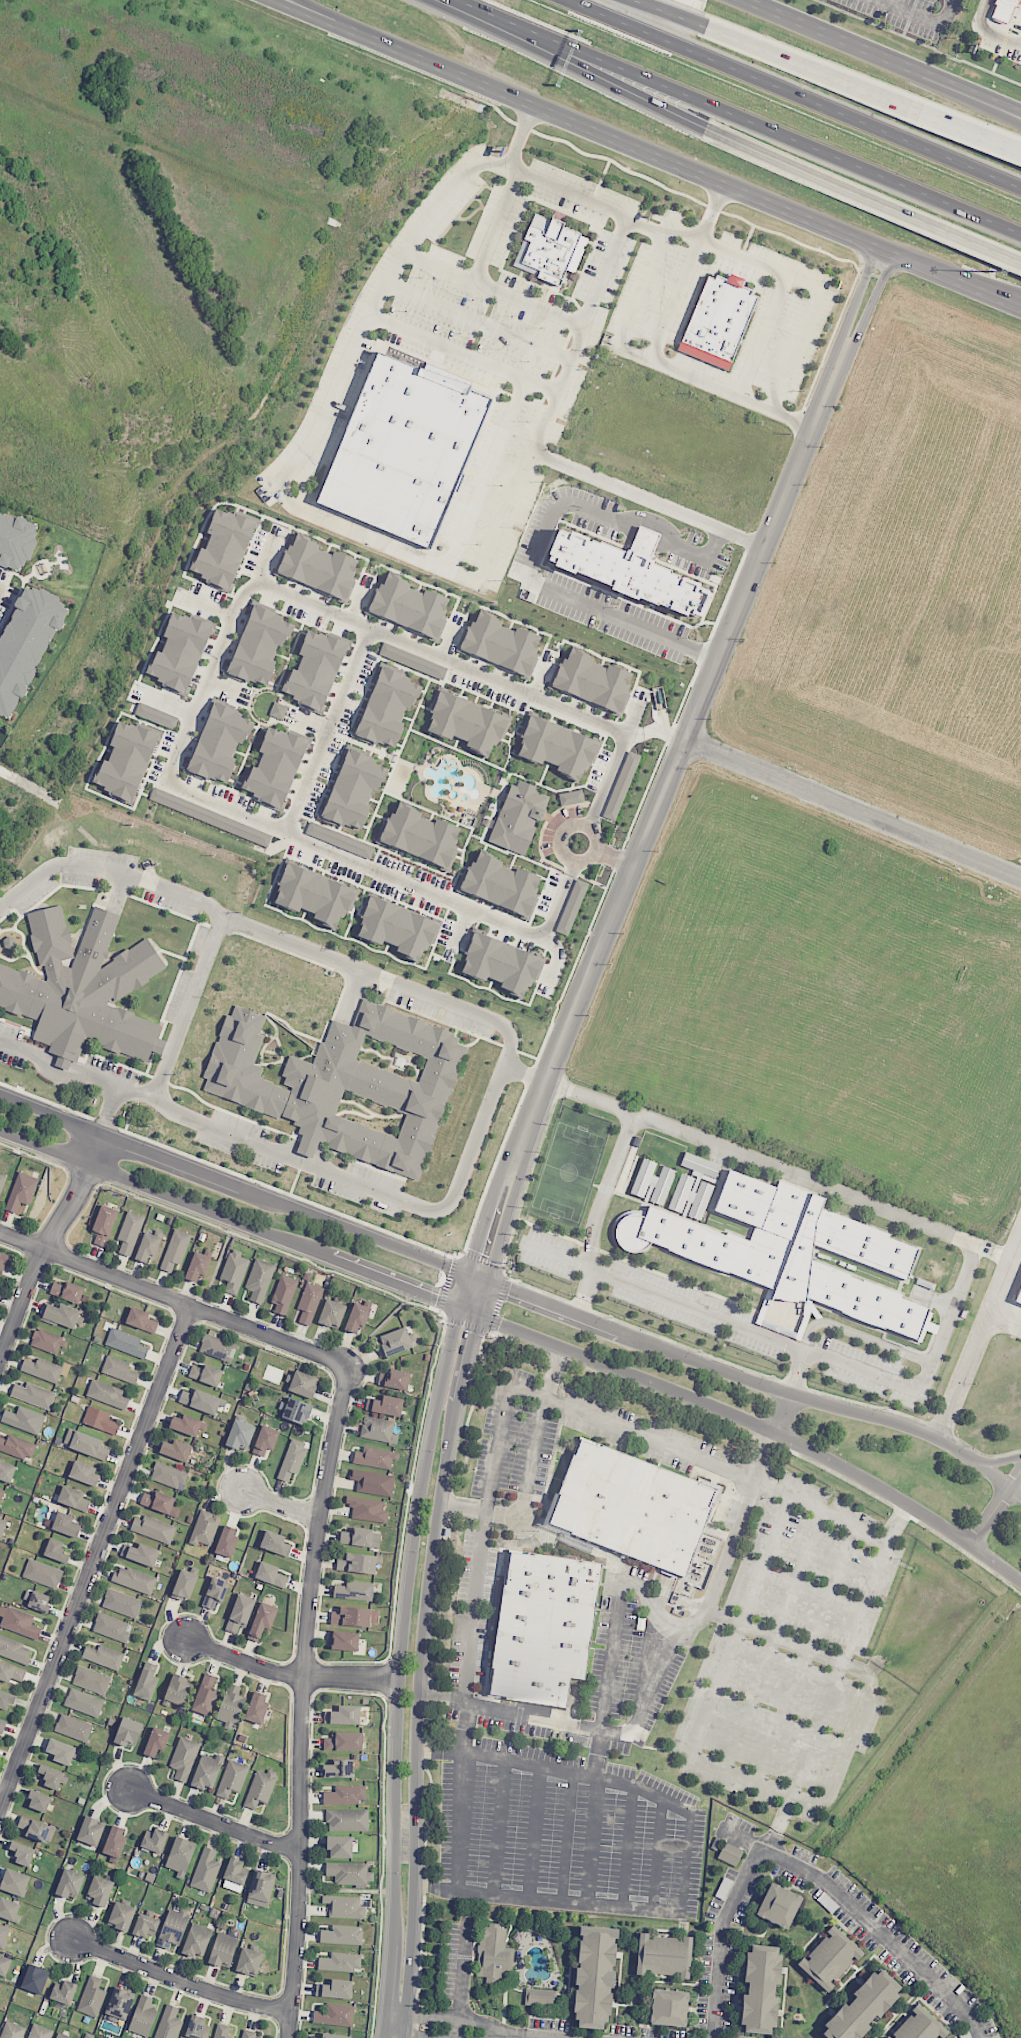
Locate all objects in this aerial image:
road: (466, 4)
building: (1003, 9)
road: (329, 13)
road: (669, 13)
road: (314, 18)
road: (924, 21)
road: (499, 24)
road: (837, 33)
street lamp: (612, 41)
road: (389, 42)
road: (388, 47)
street lamp: (362, 48)
road: (809, 67)
road: (937, 80)
road: (614, 84)
road: (969, 88)
road: (794, 94)
street lamp: (765, 104)
road: (988, 107)
road: (748, 120)
road: (967, 127)
road: (520, 136)
street lamp: (916, 167)
road: (719, 182)
road: (863, 196)
road: (666, 234)
building: (547, 248)
road: (610, 260)
street lamp: (993, 270)
street lamp: (874, 278)
road: (985, 284)
road: (822, 289)
road: (858, 294)
road: (872, 299)
road: (636, 307)
building: (718, 320)
road: (764, 335)
road: (443, 347)
road: (654, 353)
street lamp: (820, 362)
road: (514, 409)
road: (304, 448)
building: (404, 448)
street lamp: (781, 458)
road: (633, 492)
road: (648, 535)
building: (16, 540)
building: (224, 547)
street lamp: (742, 553)
road: (696, 554)
building: (318, 566)
building: (627, 571)
road: (552, 588)
building: (410, 607)
road: (211, 608)
building: (501, 643)
building: (26, 644)
building: (259, 645)
building: (181, 651)
road: (436, 655)
building: (412, 661)
building: (315, 667)
street lamp: (690, 679)
building: (593, 680)
road: (172, 705)
building: (386, 707)
building: (278, 710)
building: (156, 715)
road: (634, 719)
building: (467, 721)
road: (326, 729)
road: (664, 731)
road: (632, 734)
building: (219, 741)
street lamp: (663, 742)
building: (557, 746)
road: (680, 749)
building: (128, 759)
building: (276, 767)
building: (621, 786)
building: (352, 788)
building: (571, 797)
road: (853, 808)
building: (519, 816)
building: (419, 836)
street lamp: (626, 837)
building: (339, 840)
road: (578, 842)
road: (328, 849)
road: (606, 853)
building: (501, 885)
building: (315, 894)
building: (571, 907)
building: (397, 926)
road: (461, 926)
street lamp: (586, 933)
building: (9, 942)
road: (289, 944)
building: (502, 962)
building: (82, 986)
road: (190, 1009)
street lamp: (547, 1028)
road: (78, 1081)
building: (345, 1083)
street lamp: (61, 1103)
street lamp: (509, 1123)
street lamp: (156, 1139)
street lamp: (30, 1154)
park: (569, 1167)
street lamp: (254, 1176)
building: (1, 1179)
road: (501, 1181)
building: (652, 1182)
road: (234, 1183)
road: (352, 1183)
building: (693, 1186)
road: (831, 1188)
building: (21, 1191)
street lamp: (137, 1195)
street lamp: (343, 1212)
road: (598, 1214)
road: (230, 1219)
street lamp: (472, 1219)
road: (505, 1220)
building: (104, 1225)
street lamp: (227, 1230)
building: (129, 1232)
road: (479, 1239)
road: (45, 1241)
street lamp: (434, 1247)
building: (147, 1248)
building: (175, 1249)
building: (784, 1250)
building: (4, 1261)
building: (197, 1267)
street lamp: (323, 1267)
building: (234, 1271)
road: (479, 1277)
building: (259, 1279)
building: (0, 1290)
road: (465, 1290)
building: (67, 1291)
building: (284, 1294)
building: (1018, 1294)
road: (173, 1299)
street lamp: (414, 1300)
building: (309, 1302)
road: (554, 1308)
building: (332, 1313)
building: (61, 1315)
road: (723, 1316)
building: (356, 1318)
parking lot: (723, 1318)
building: (141, 1320)
road: (1002, 1321)
road: (977, 1329)
road: (862, 1335)
road: (471, 1340)
building: (47, 1341)
building: (395, 1341)
building: (126, 1343)
building: (217, 1348)
street lamp: (457, 1350)
building: (42, 1369)
building: (118, 1369)
road: (800, 1369)
building: (206, 1374)
building: (393, 1379)
building: (303, 1384)
building: (106, 1394)
building: (34, 1395)
building: (202, 1401)
road: (826, 1403)
building: (385, 1405)
building: (296, 1411)
road: (785, 1413)
building: (24, 1419)
building: (100, 1420)
road: (752, 1422)
building: (187, 1425)
building: (378, 1429)
building: (240, 1435)
building: (265, 1440)
building: (86, 1444)
building: (17, 1447)
building: (176, 1450)
street lamp: (435, 1450)
building: (374, 1457)
building: (292, 1459)
road: (1000, 1460)
building: (6, 1471)
road: (530, 1472)
building: (84, 1473)
building: (169, 1475)
building: (373, 1482)
building: (1, 1494)
building: (73, 1498)
building: (160, 1503)
road: (280, 1505)
road: (485, 1506)
building: (629, 1508)
road: (995, 1508)
building: (367, 1509)
road: (836, 1518)
road: (896, 1523)
building: (65, 1524)
building: (2, 1526)
building: (153, 1528)
building: (204, 1528)
building: (356, 1537)
building: (227, 1541)
road: (578, 1542)
building: (275, 1543)
building: (56, 1550)
street lamp: (420, 1552)
building: (143, 1554)
road: (95, 1558)
building: (358, 1563)
road: (720, 1570)
building: (42, 1573)
building: (270, 1574)
building: (134, 1579)
building: (184, 1585)
building: (354, 1590)
building: (214, 1593)
building: (39, 1602)
building: (122, 1603)
building: (240, 1613)
building: (354, 1616)
building: (262, 1620)
building: (20, 1623)
road: (405, 1623)
road: (740, 1623)
building: (540, 1626)
building: (111, 1627)
road: (772, 1637)
building: (345, 1641)
building: (15, 1649)
road: (806, 1652)
street lamp: (409, 1653)
building: (103, 1656)
road: (838, 1667)
building: (10, 1672)
road: (291, 1675)
building: (91, 1680)
building: (146, 1682)
building: (178, 1690)
building: (205, 1695)
building: (6, 1700)
road: (300, 1701)
building: (84, 1702)
building: (231, 1707)
building: (256, 1708)
building: (343, 1715)
road: (416, 1718)
building: (2, 1726)
building: (73, 1727)
road: (597, 1727)
road: (853, 1727)
building: (128, 1732)
road: (602, 1739)
building: (344, 1741)
building: (156, 1742)
building: (61, 1751)
building: (183, 1758)
street lamp: (403, 1760)
building: (339, 1768)
road: (556, 1770)
building: (207, 1772)
building: (53, 1777)
building: (232, 1779)
building: (260, 1788)
building: (345, 1795)
building: (38, 1801)
road: (785, 1811)
building: (347, 1819)
road: (211, 1820)
road: (502, 1827)
building: (36, 1829)
building: (91, 1831)
parking lot: (567, 1831)
road: (537, 1832)
road: (569, 1837)
building: (154, 1841)
building: (114, 1842)
road: (775, 1844)
road: (630, 1846)
building: (339, 1847)
building: (22, 1853)
road: (658, 1854)
building: (730, 1854)
building: (180, 1856)
road: (688, 1862)
building: (205, 1870)
road: (804, 1872)
building: (349, 1873)
street lamp: (401, 1873)
building: (235, 1876)
building: (14, 1882)
building: (69, 1884)
building: (260, 1888)
building: (100, 1890)
road: (548, 1898)
building: (778, 1905)
building: (344, 1907)
building: (8, 1909)
building: (121, 1916)
building: (145, 1925)
building: (173, 1927)
building: (3, 1935)
building: (342, 1935)
building: (197, 1940)
building: (223, 1950)
building: (494, 1955)
building: (663, 1955)
building: (829, 1958)
building: (249, 1961)
building: (340, 1962)
building: (4, 1965)
road: (462, 1970)
building: (594, 1977)
building: (34, 1979)
road: (178, 1979)
road: (389, 1987)
building: (333, 1989)
building: (760, 1989)
building: (63, 1994)
building: (91, 1997)
building: (540, 1997)
building: (119, 2005)
building: (669, 2007)
building: (862, 2007)
building: (335, 2015)
building: (143, 2017)
road: (451, 2018)
building: (169, 2023)
building: (919, 2026)
building: (197, 2028)
building: (12, 2030)
building: (221, 2031)
building: (40, 2032)
building: (248, 2034)
road: (384, 2034)
road: (422, 2034)
road: (517, 2034)
building: (62, 2036)
building: (334, 2036)
road: (502, 2036)
road: (541, 2036)
building: (313, 2037)

